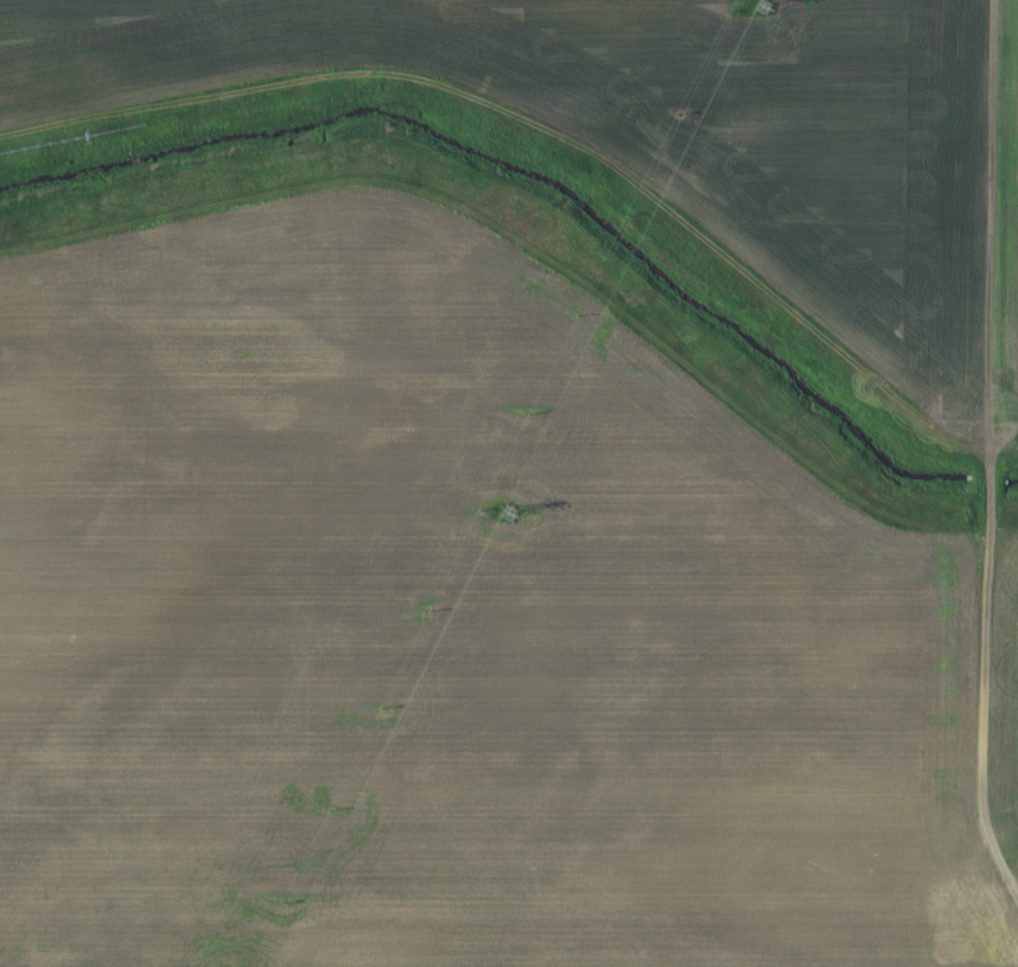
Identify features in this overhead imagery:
building: (955, 912)

